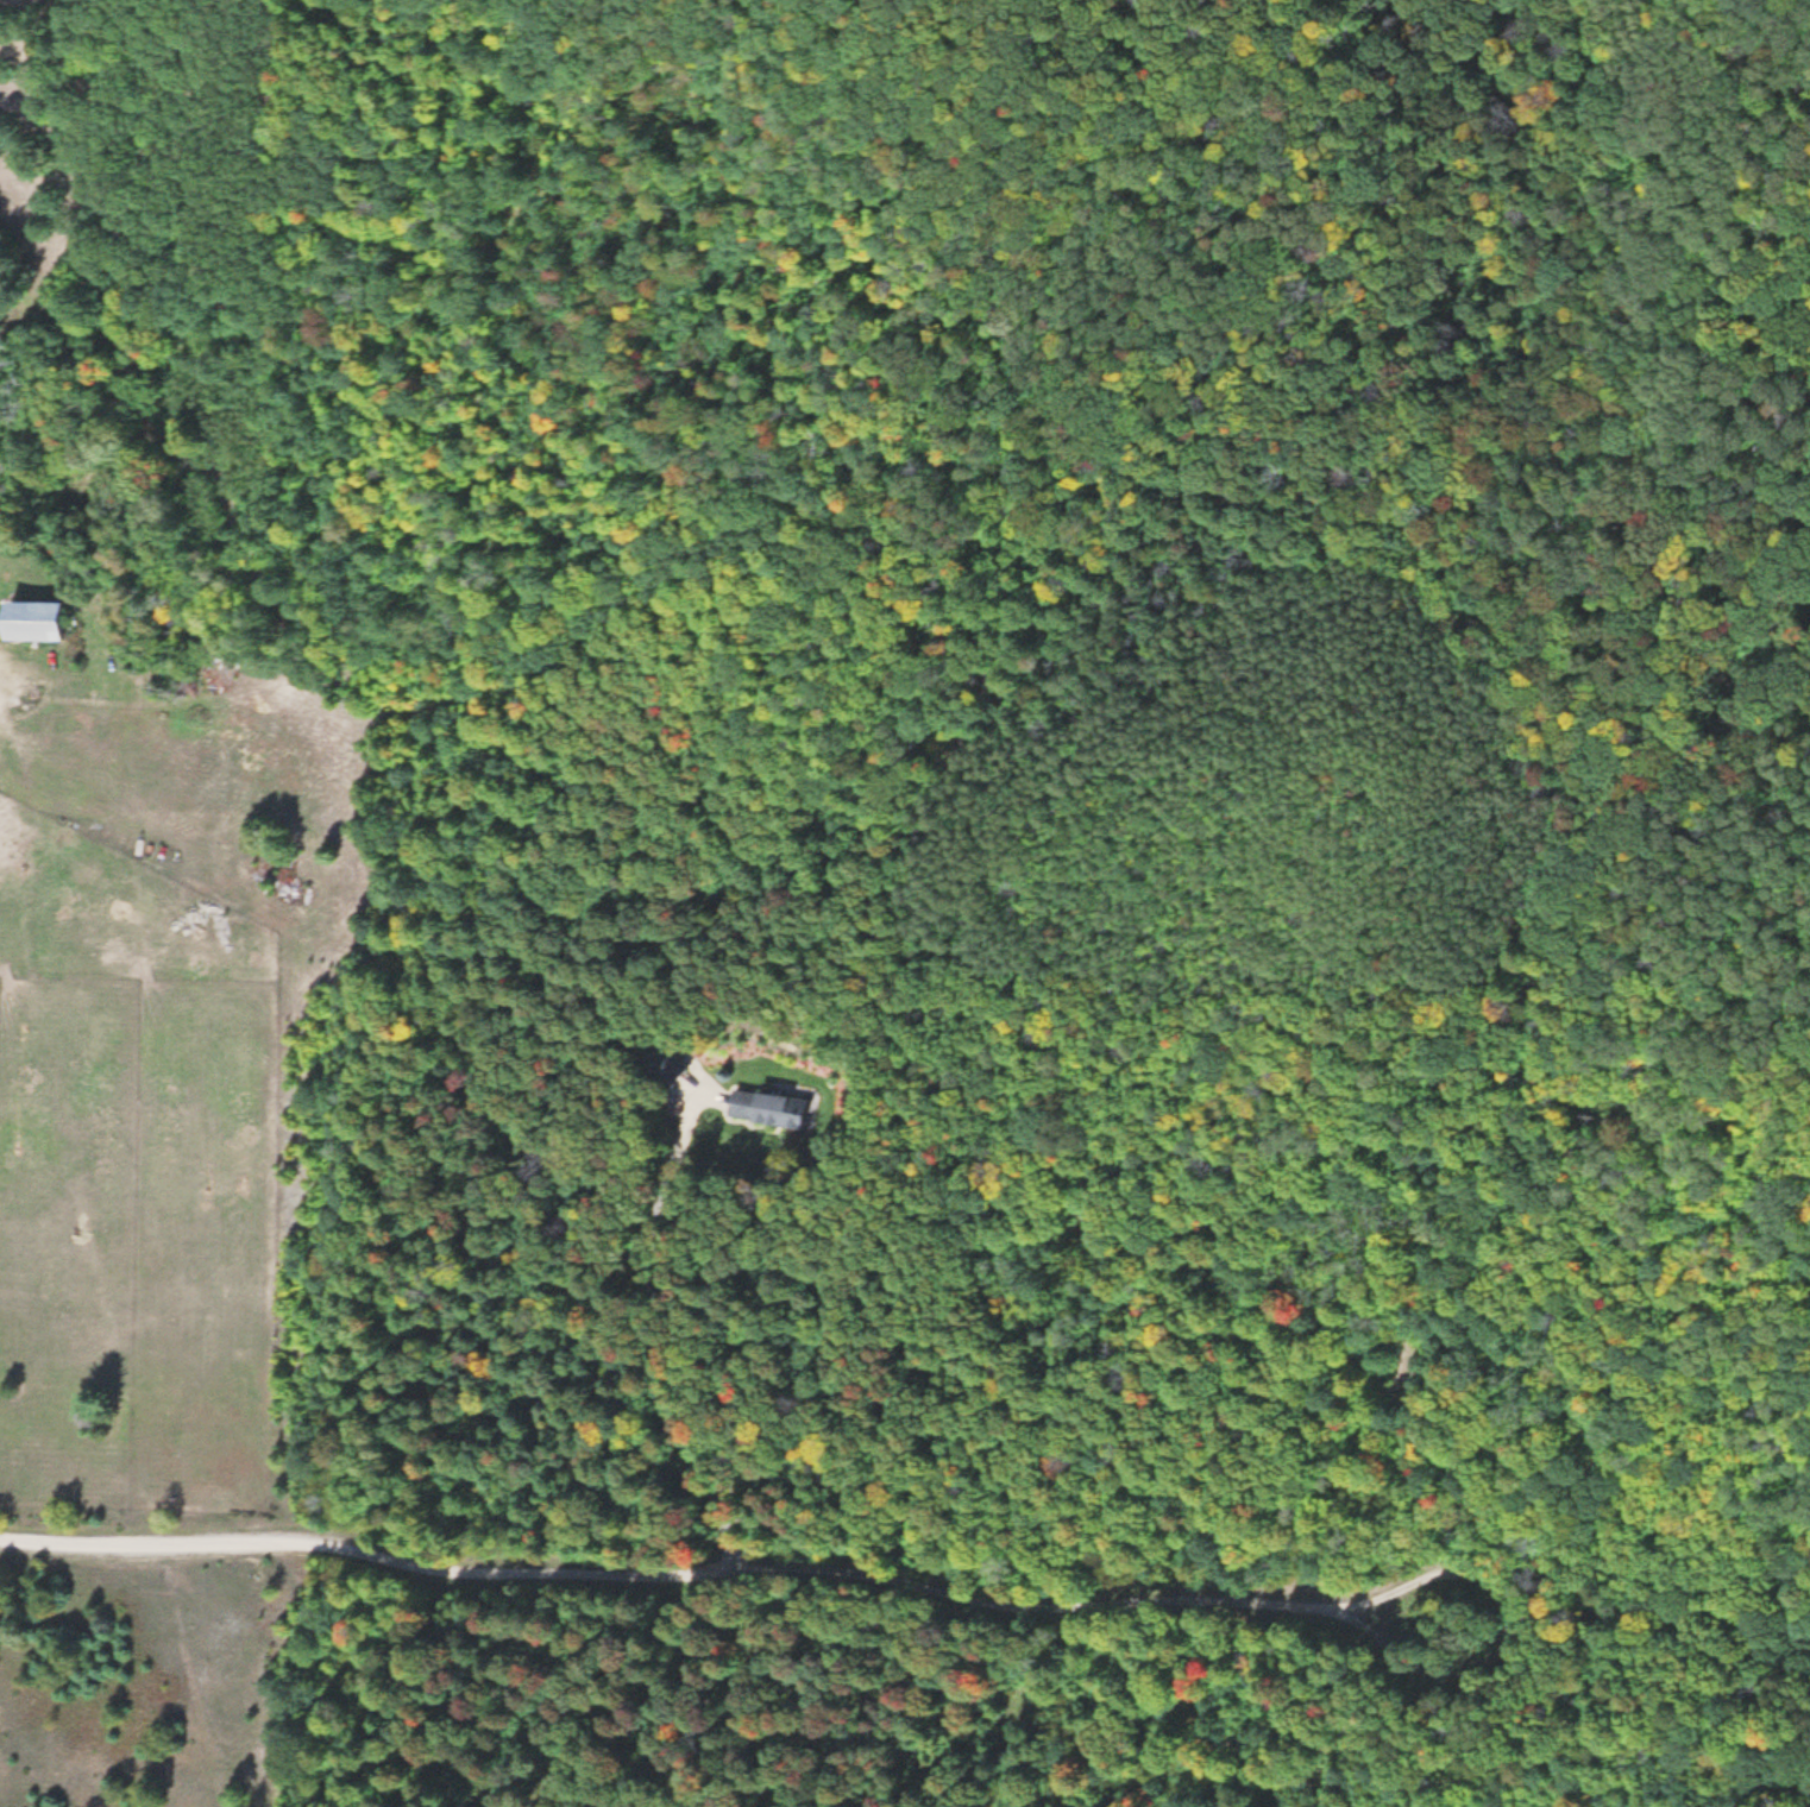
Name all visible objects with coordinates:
building: (43, 621)
building: (666, 1064)
road: (704, 1093)
building: (772, 1108)
road: (672, 1330)
road: (680, 1573)
road: (1523, 1630)

